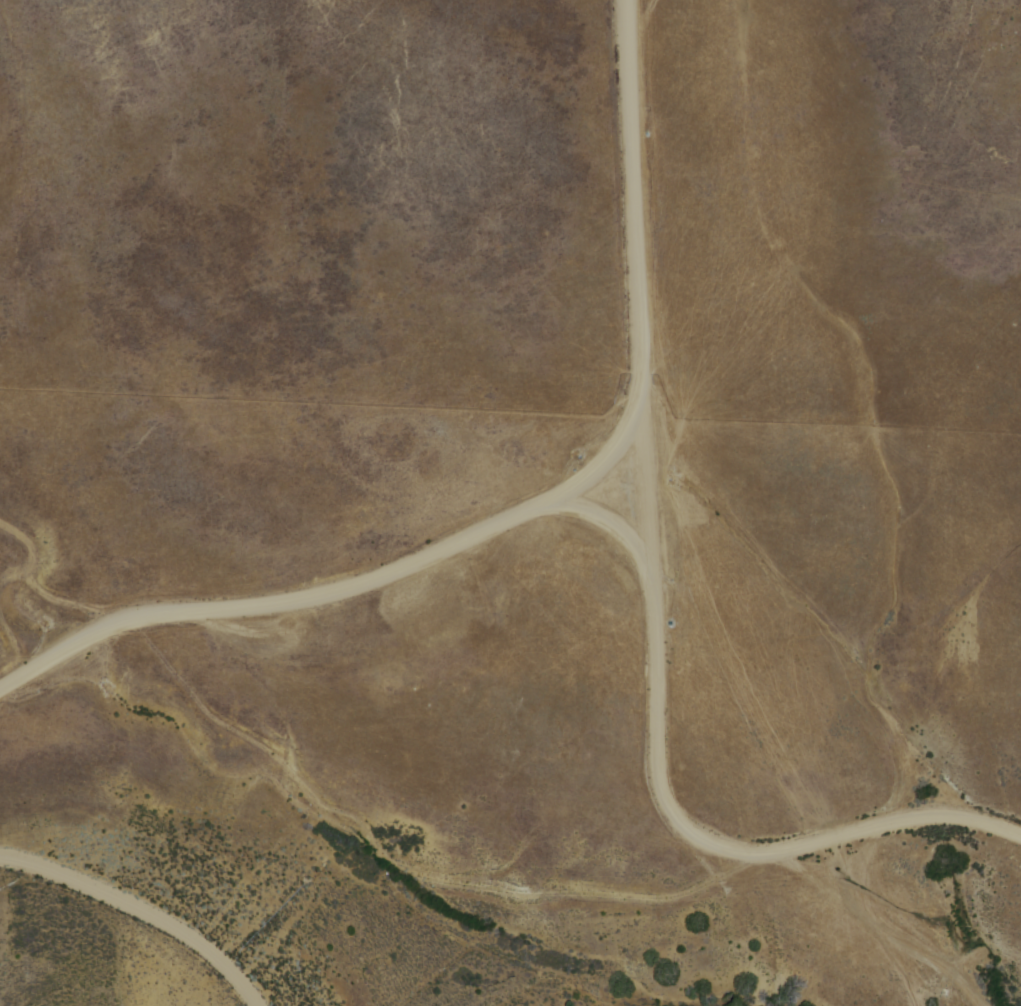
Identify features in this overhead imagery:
road: (323, 581)
road: (644, 593)
road: (822, 615)
road: (9, 651)
road: (889, 818)

